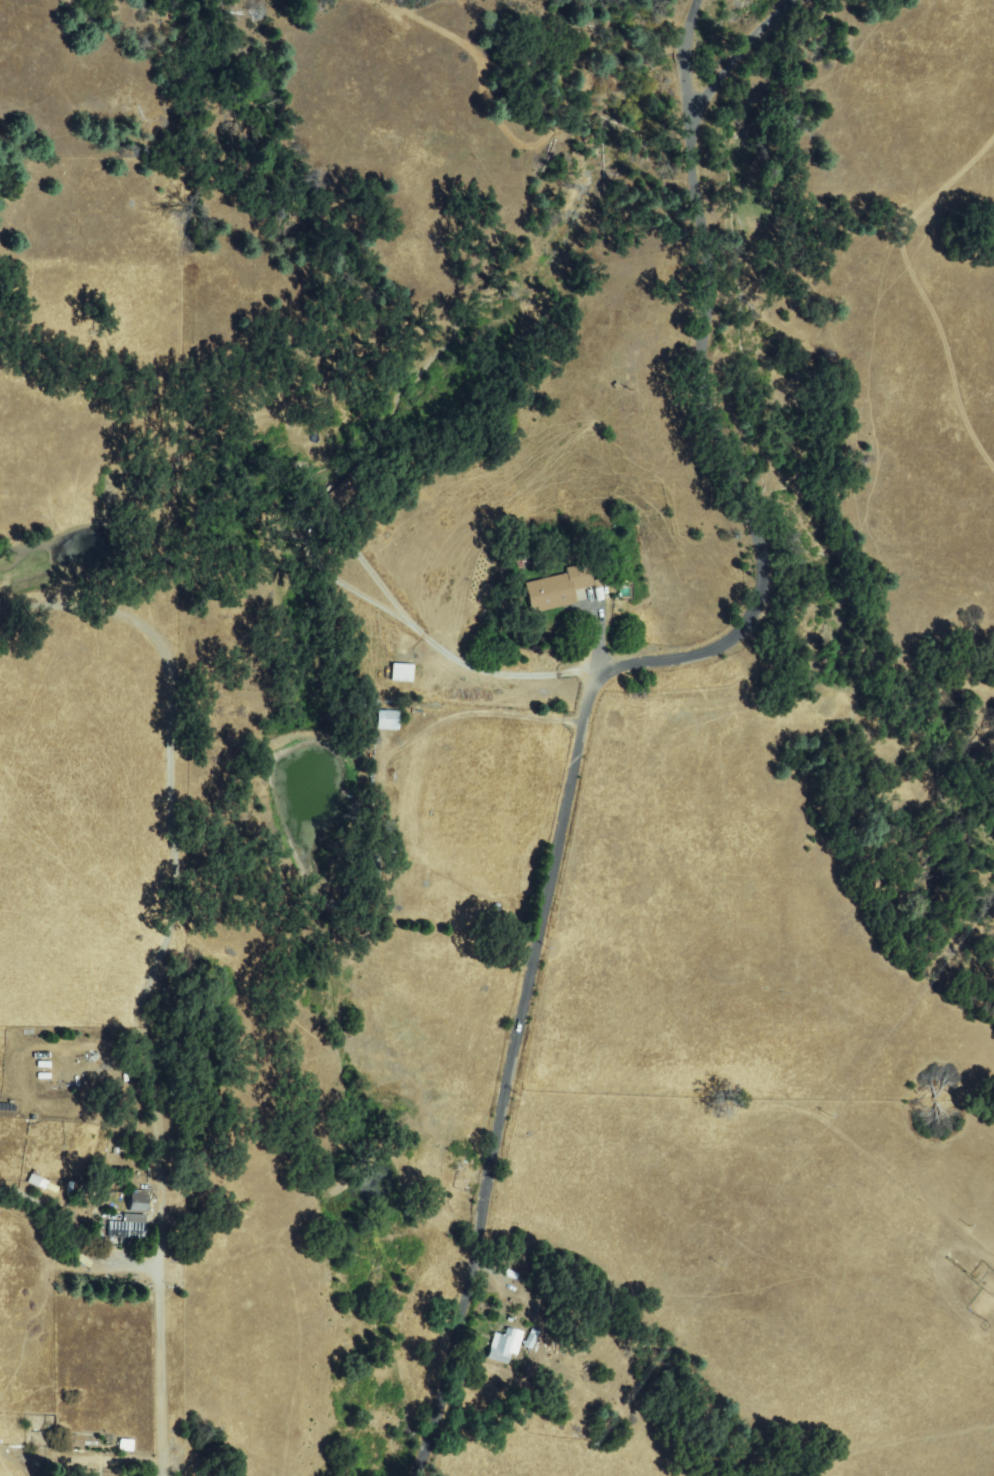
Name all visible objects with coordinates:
road: (688, 56)
building: (342, 495)
building: (325, 516)
building: (557, 590)
building: (402, 674)
road: (598, 678)
building: (373, 870)
road: (156, 969)
road: (77, 1064)
building: (35, 1183)
building: (139, 1202)
building: (129, 1228)
building: (530, 1343)
building: (505, 1347)

